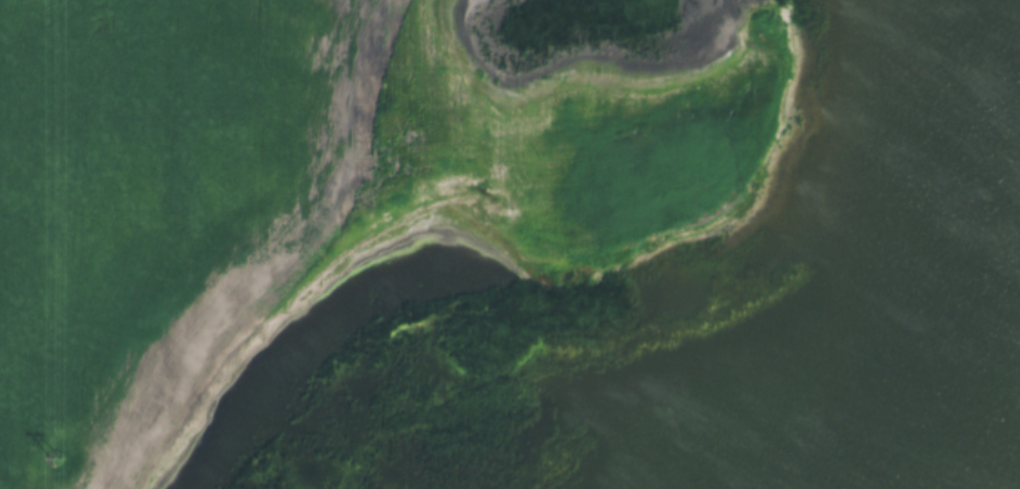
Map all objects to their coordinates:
power tower: (47, 457)

